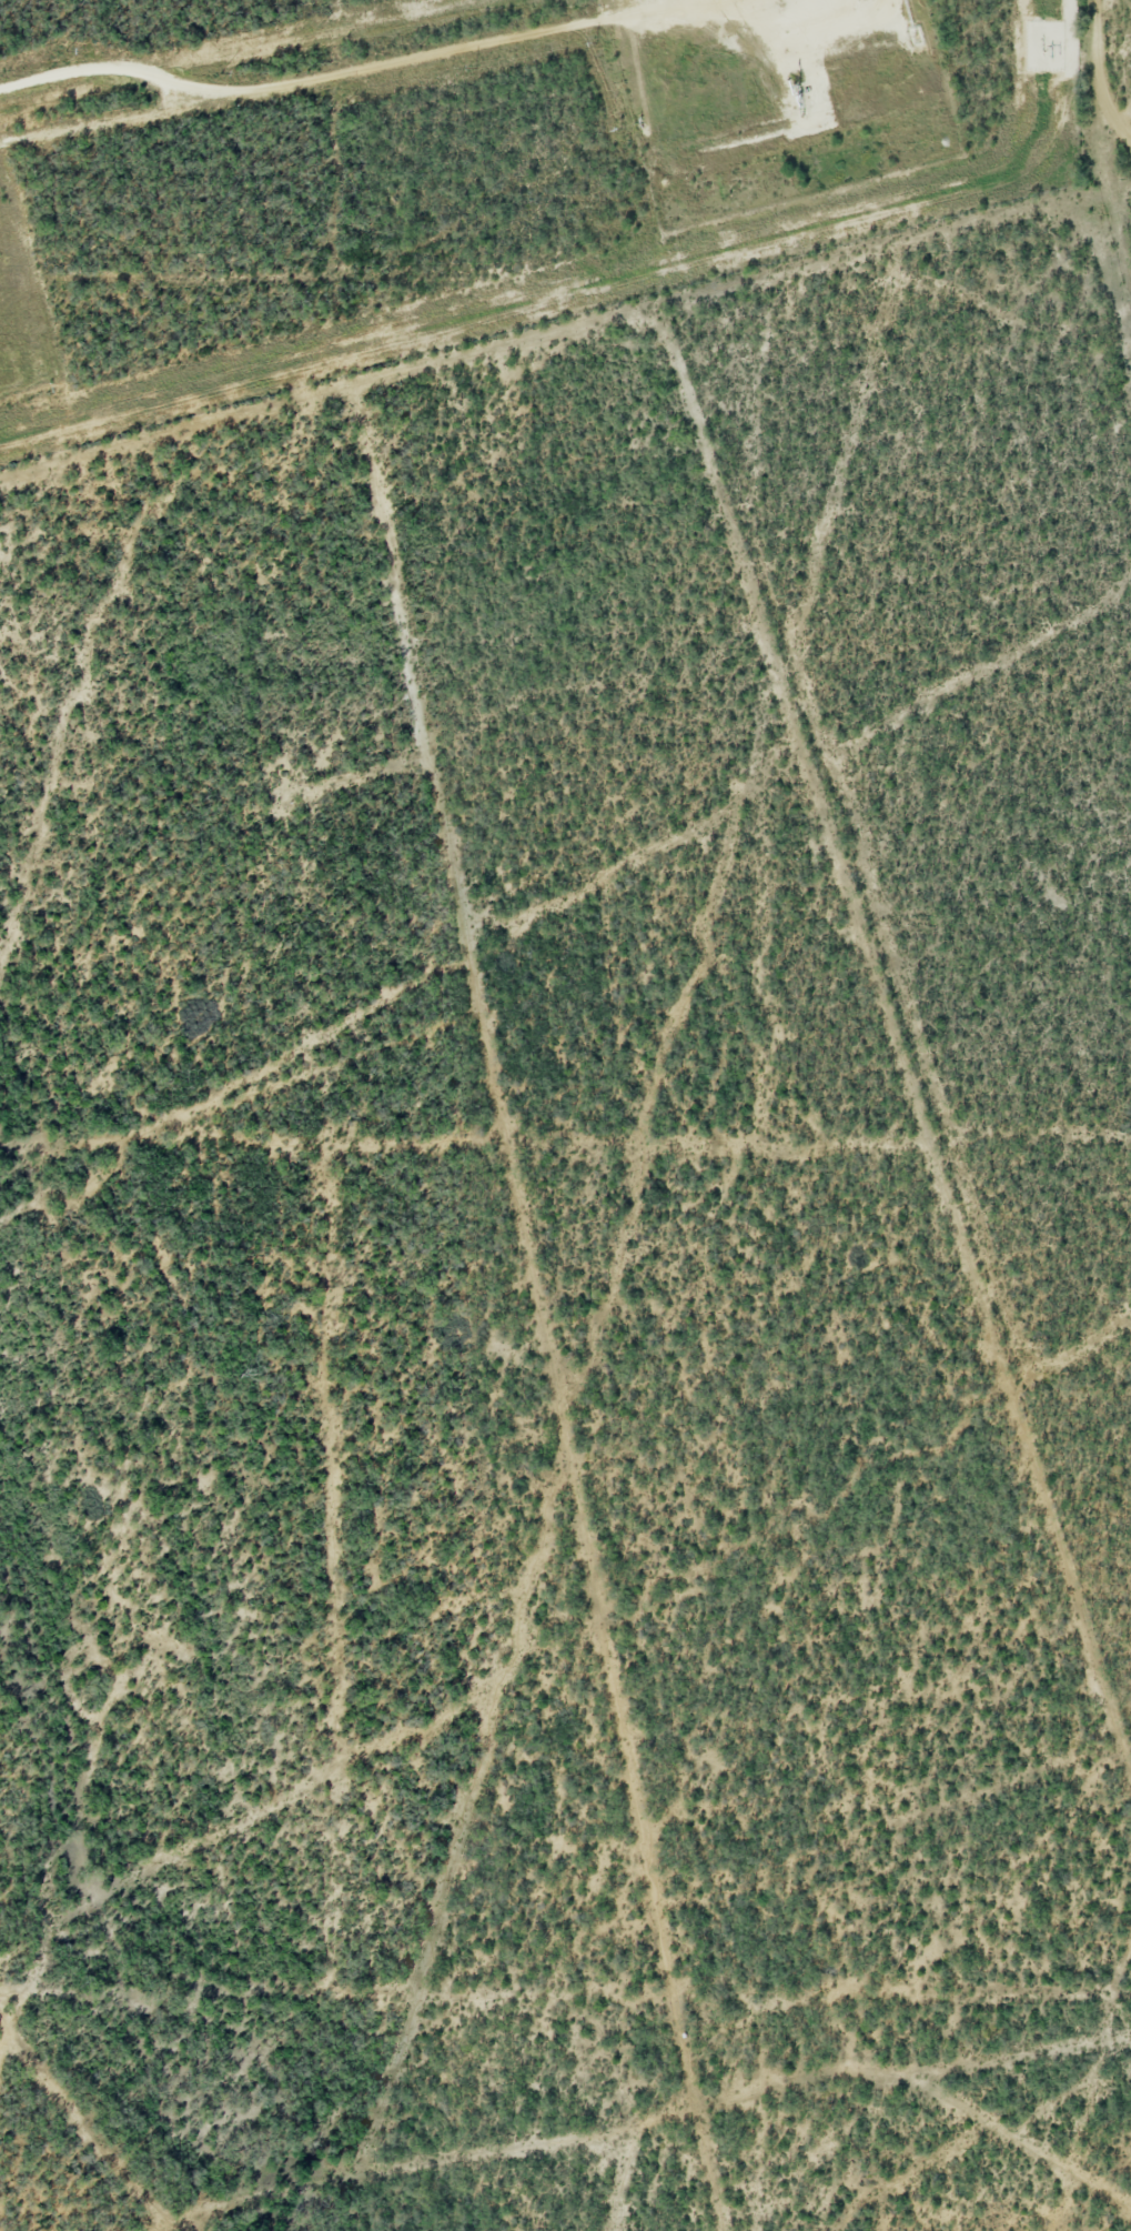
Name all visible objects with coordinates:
road: (387, 67)

